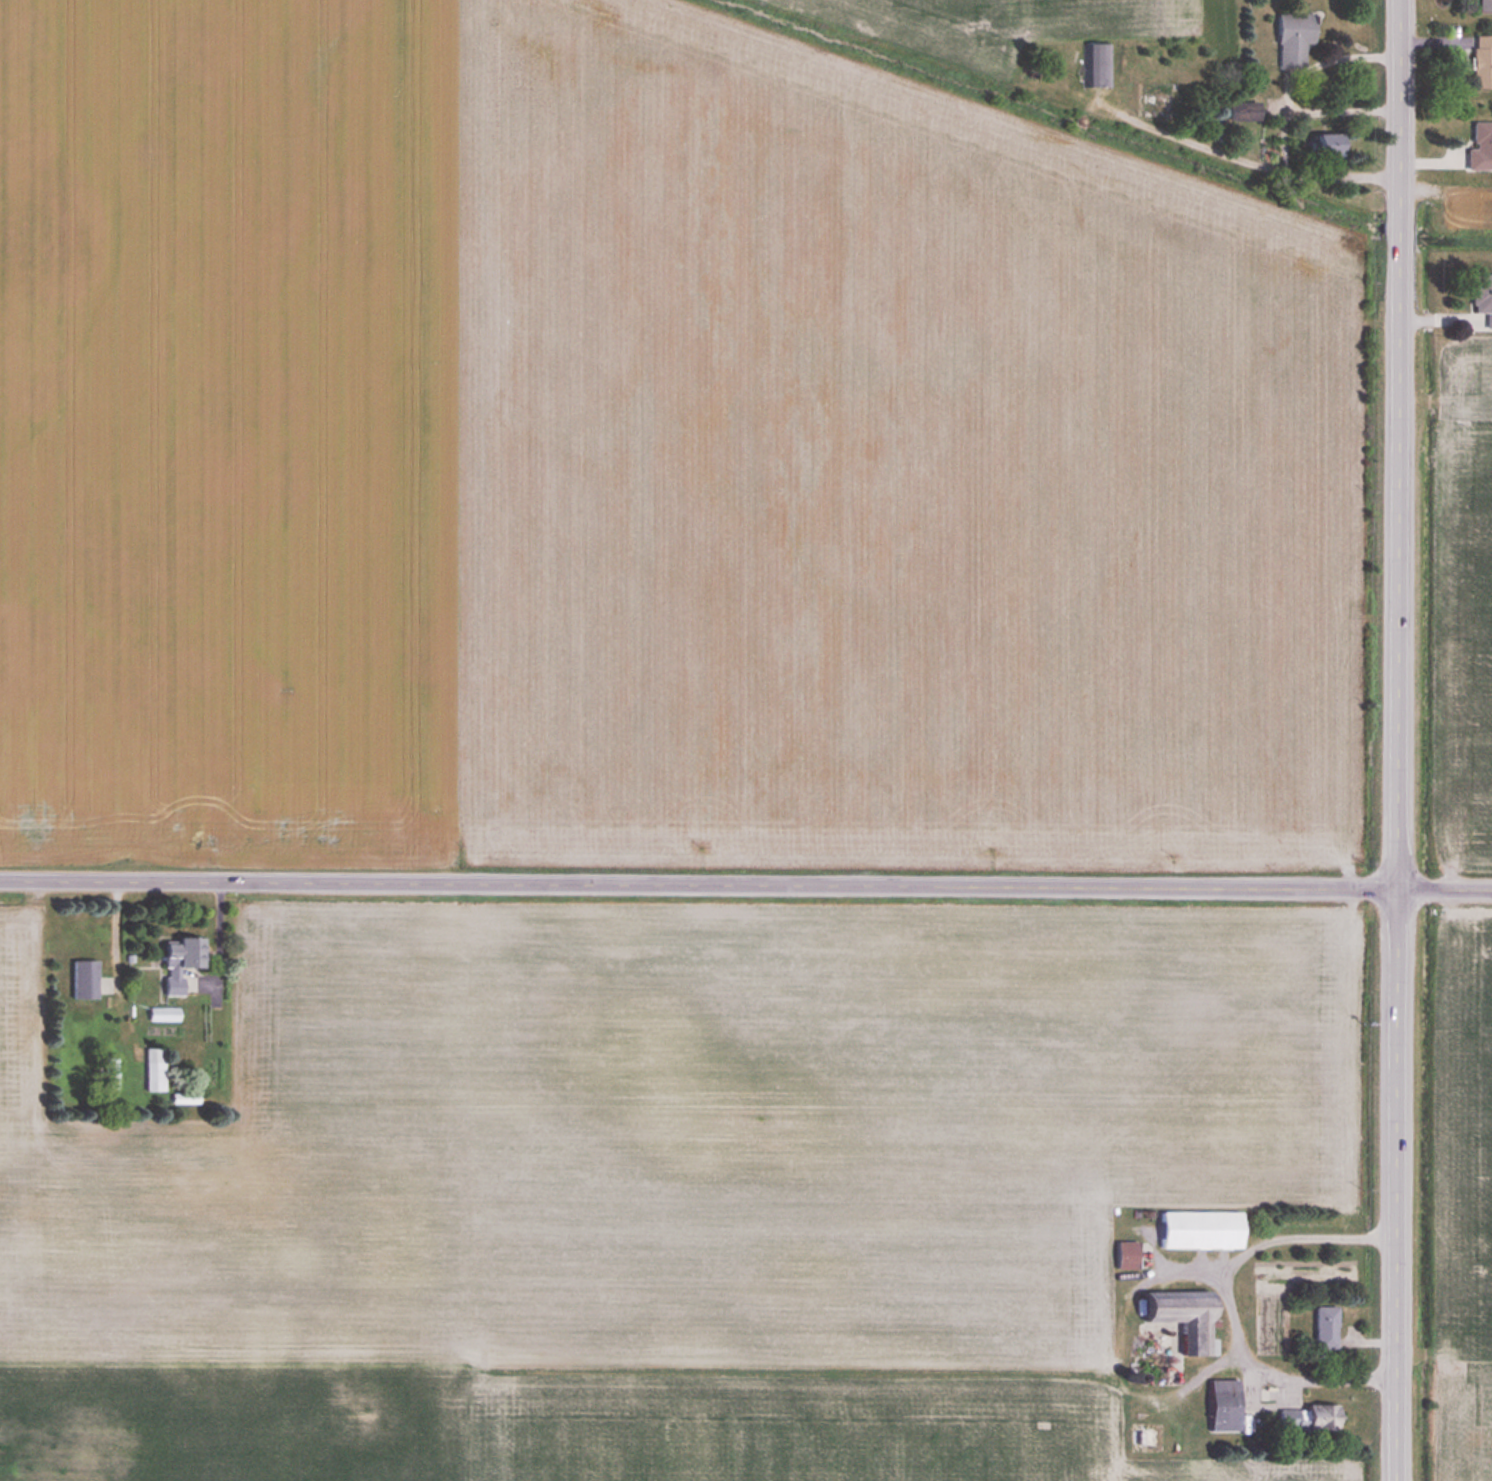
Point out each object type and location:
building: (1484, 5)
building: (1292, 39)
building: (1482, 61)
building: (1097, 65)
building: (1242, 110)
building: (1328, 144)
building: (1480, 146)
building: (1483, 296)
road: (1399, 740)
road: (746, 886)
building: (179, 961)
building: (84, 978)
building: (154, 1068)
building: (111, 1072)
building: (184, 1097)
building: (1201, 1228)
building: (1127, 1254)
road: (1230, 1299)
building: (1185, 1317)
building: (1326, 1326)
building: (1225, 1405)
building: (1310, 1419)

